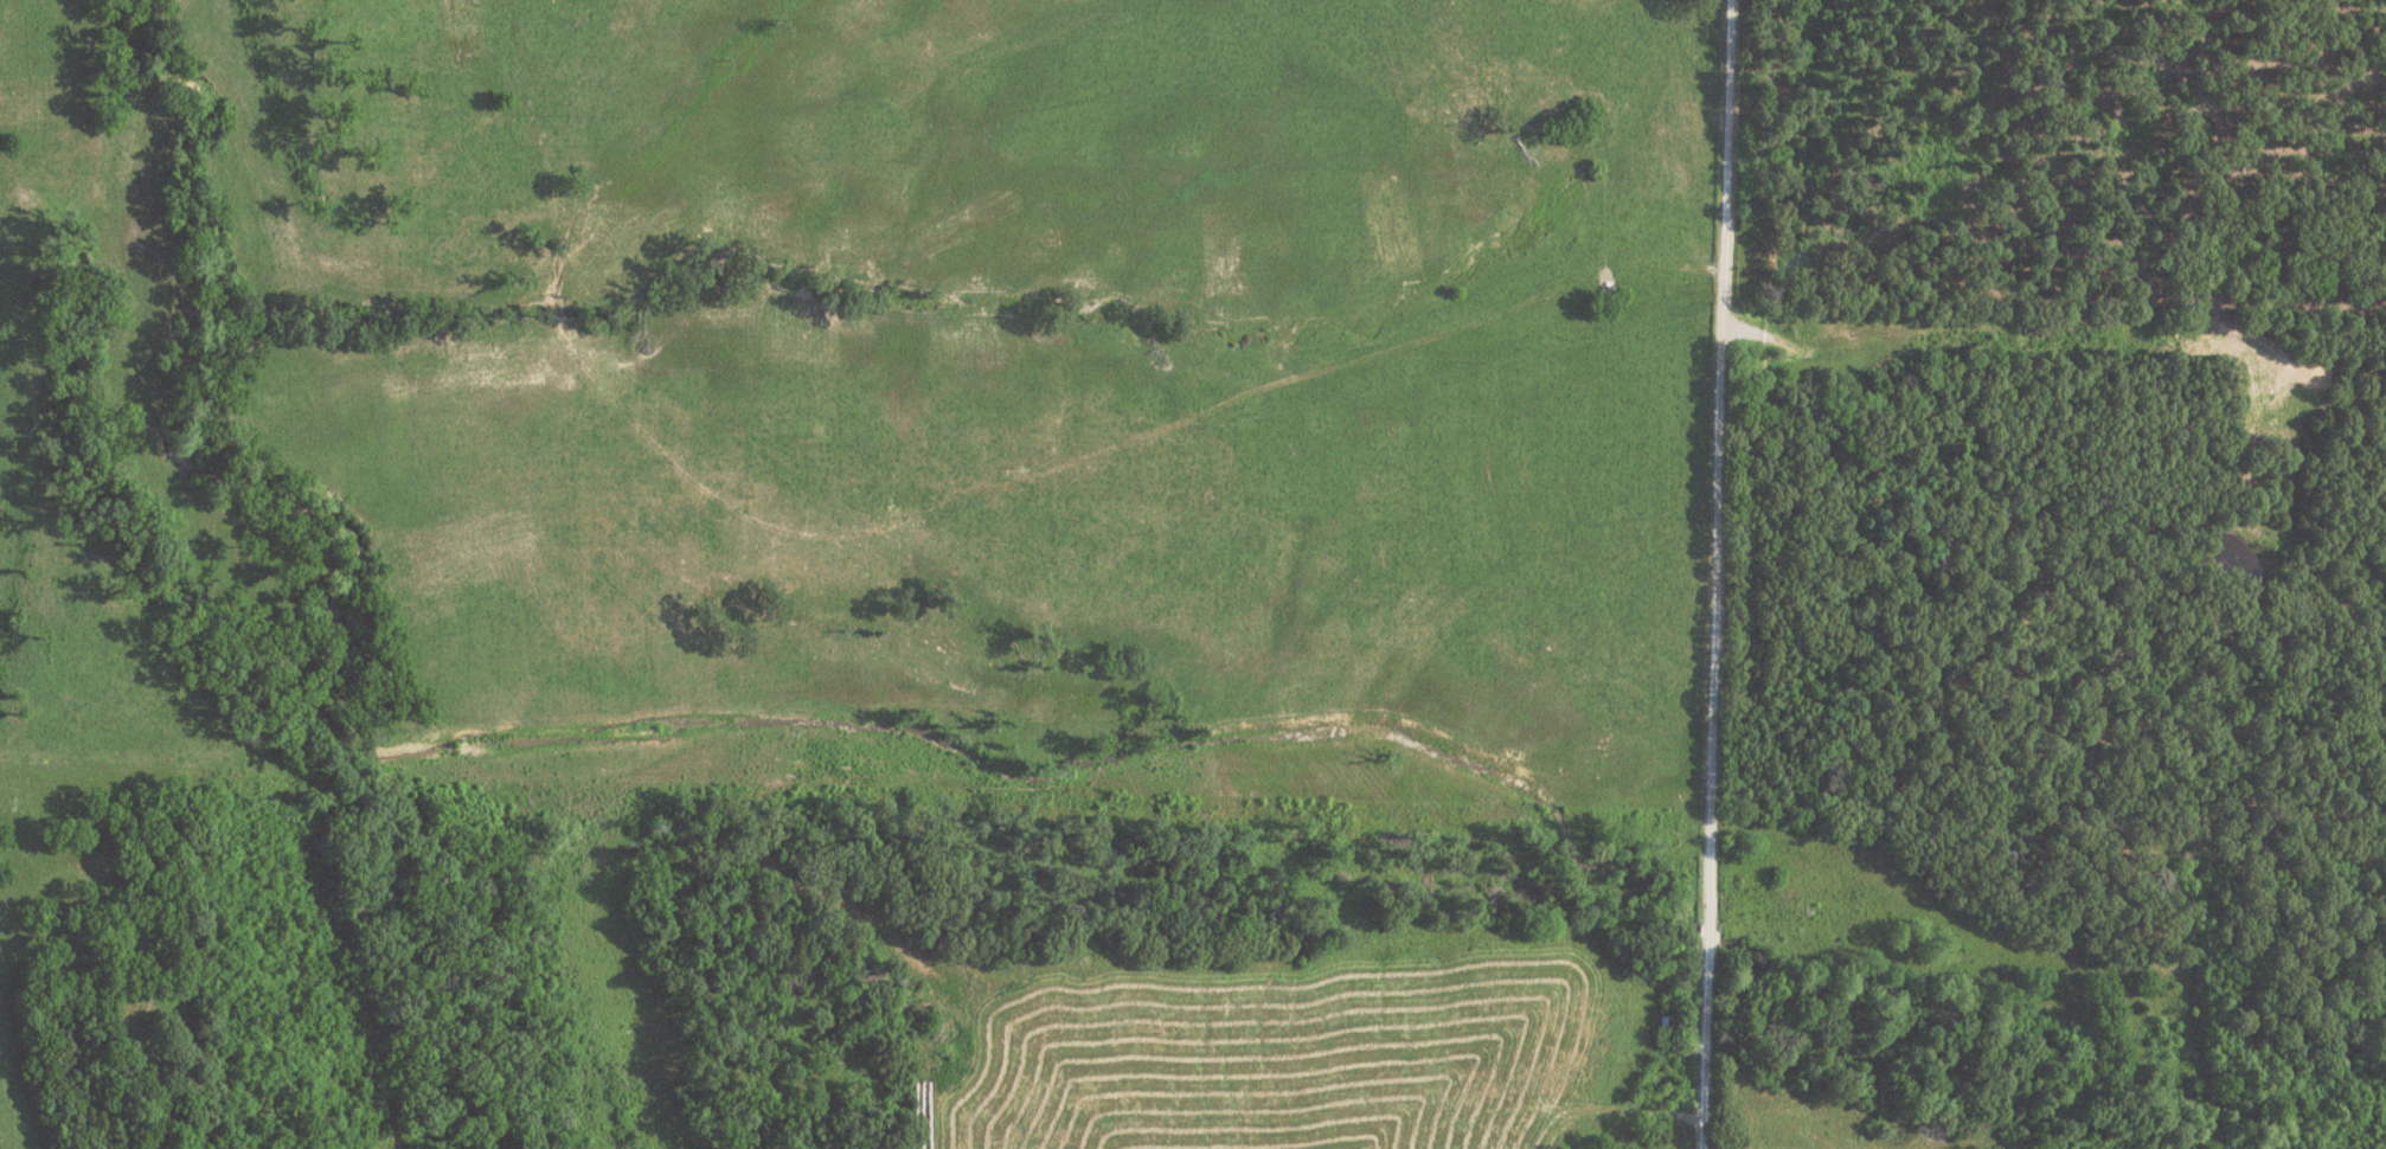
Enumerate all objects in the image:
building: (1672, 172)
road: (1714, 574)
building: (1666, 1027)

